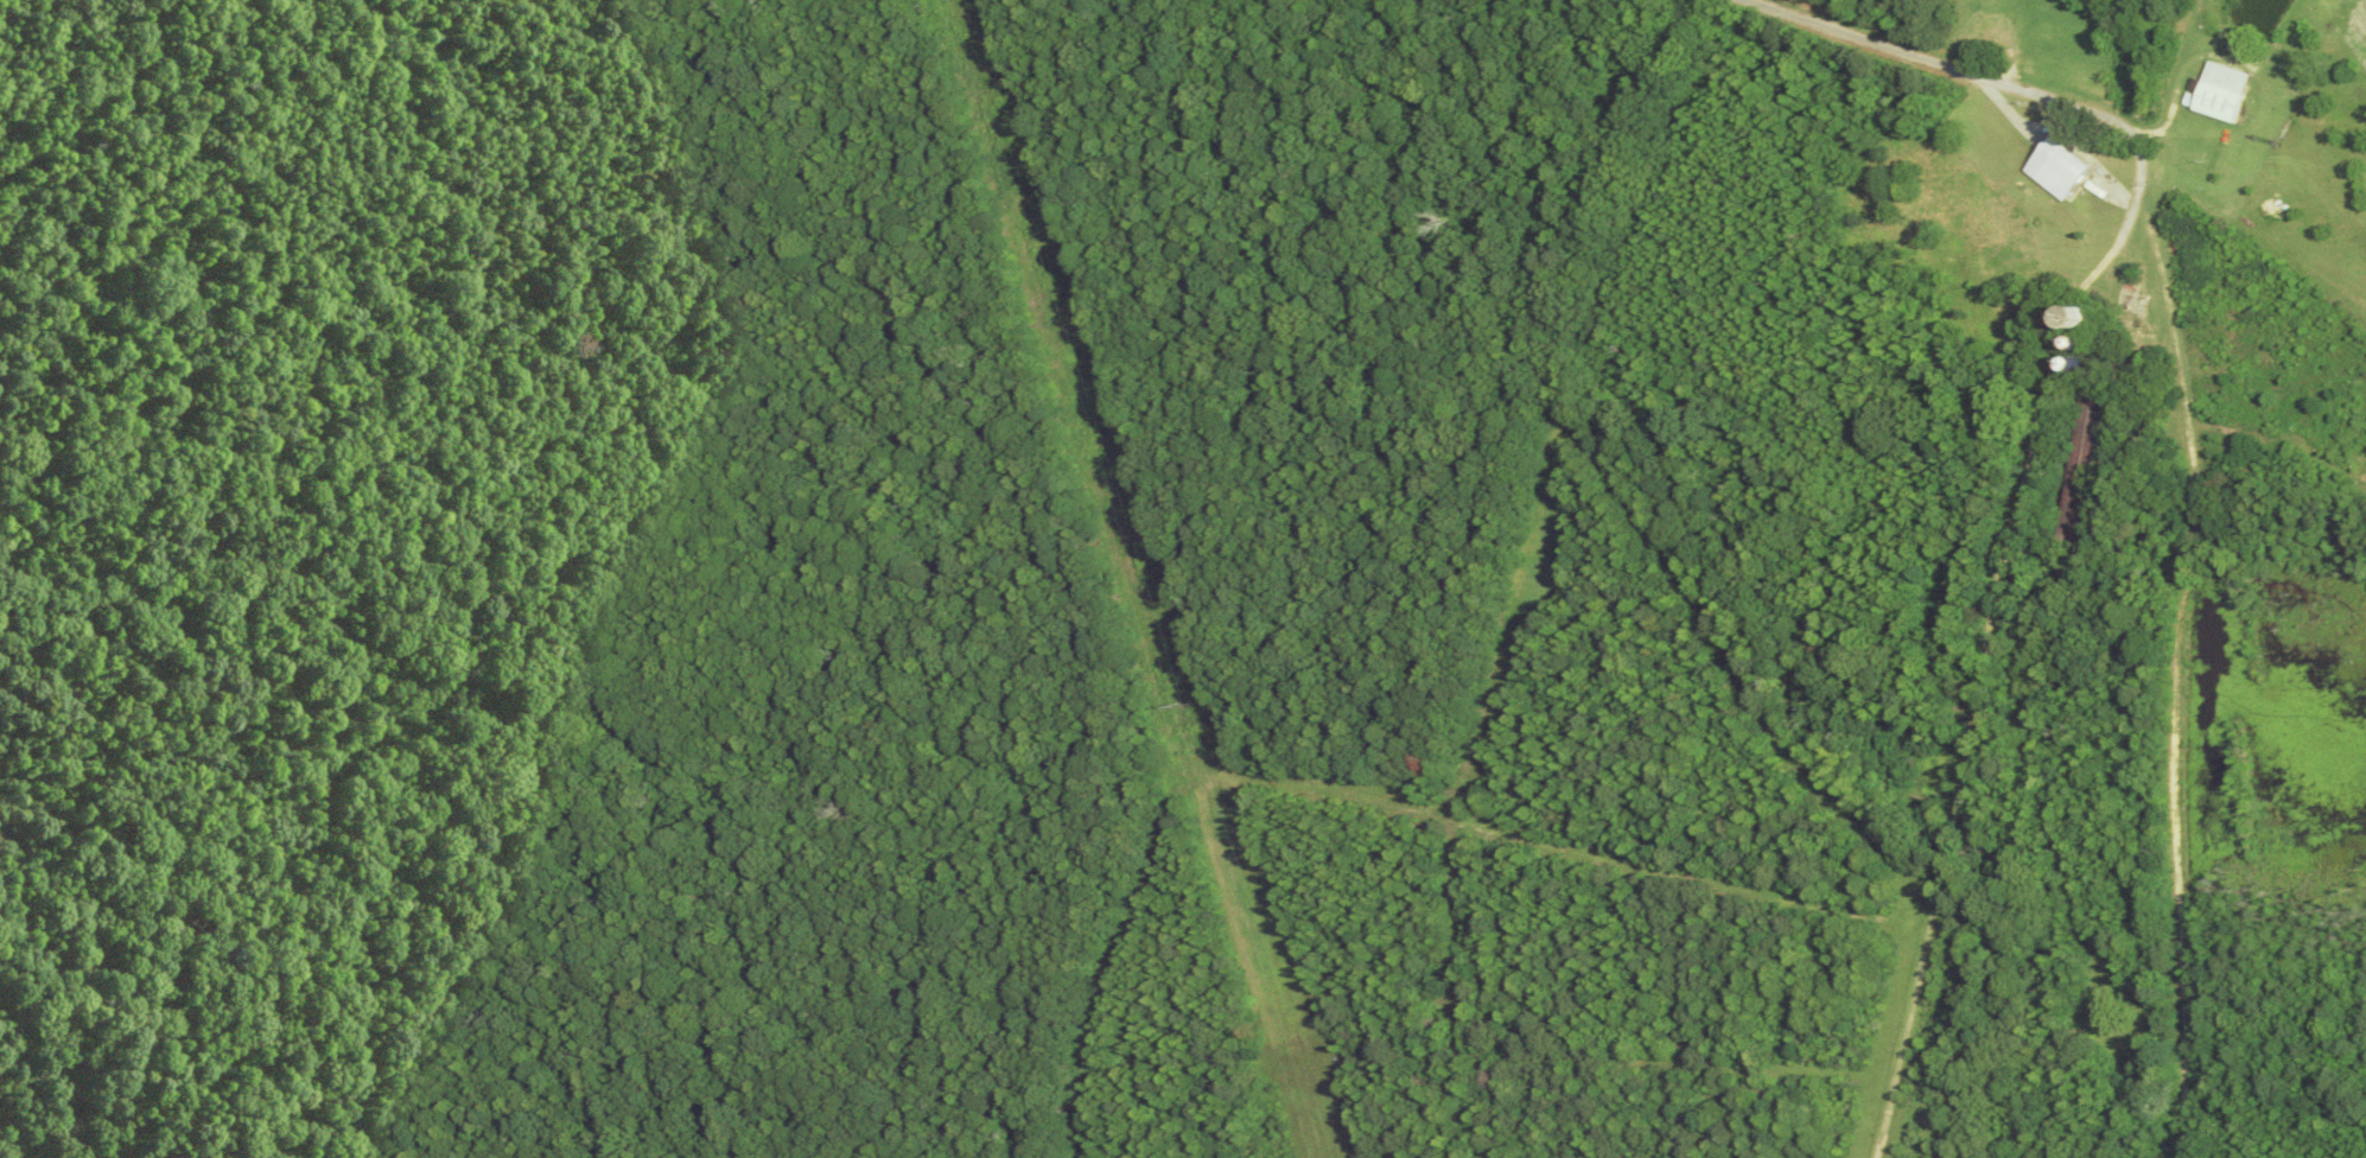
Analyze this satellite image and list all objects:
building: (2226, 94)
building: (2060, 170)

